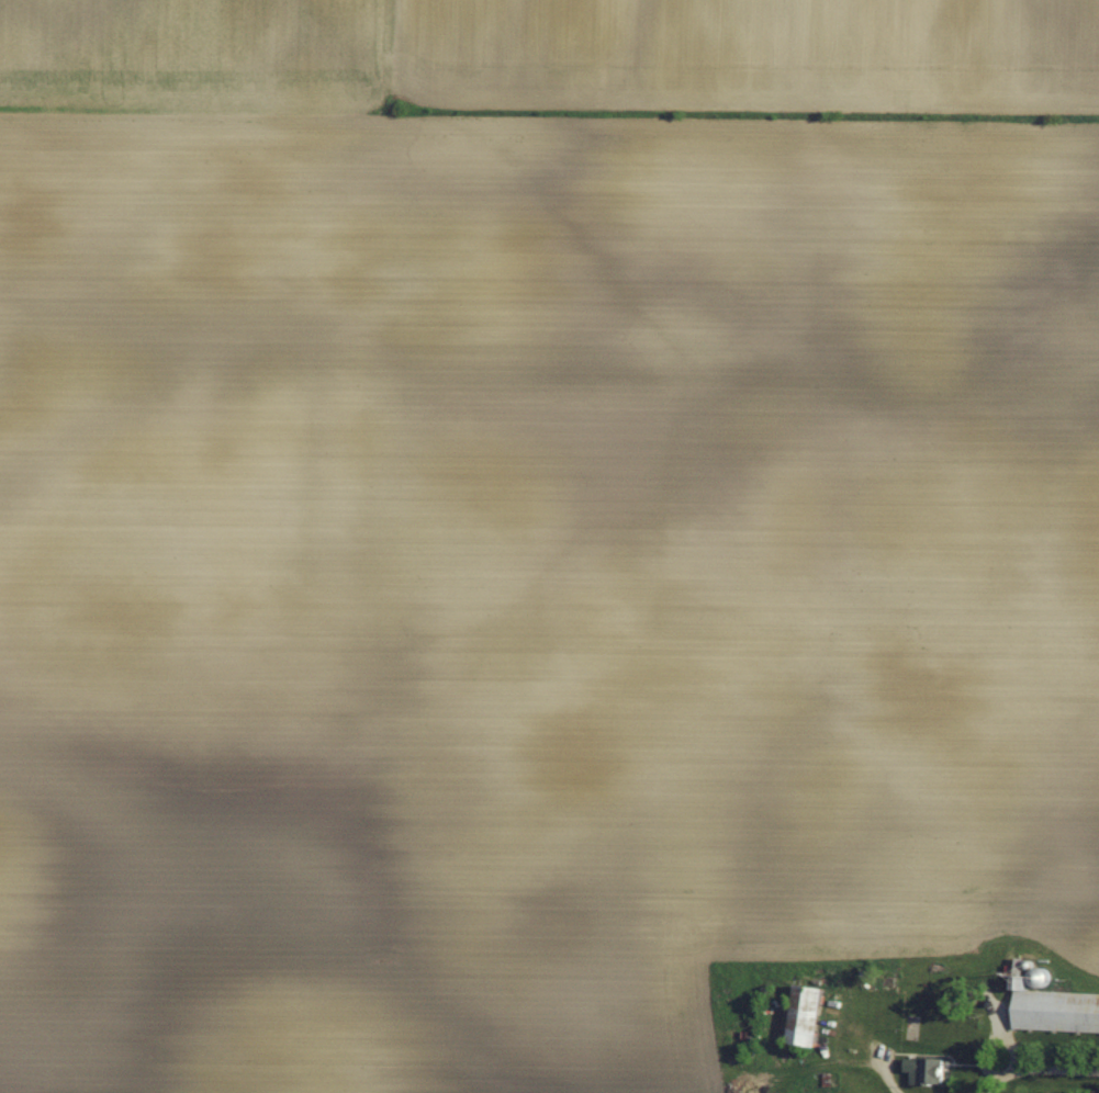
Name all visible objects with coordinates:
building: (1055, 1007)
building: (811, 1013)
building: (929, 1068)
road: (1046, 1077)

